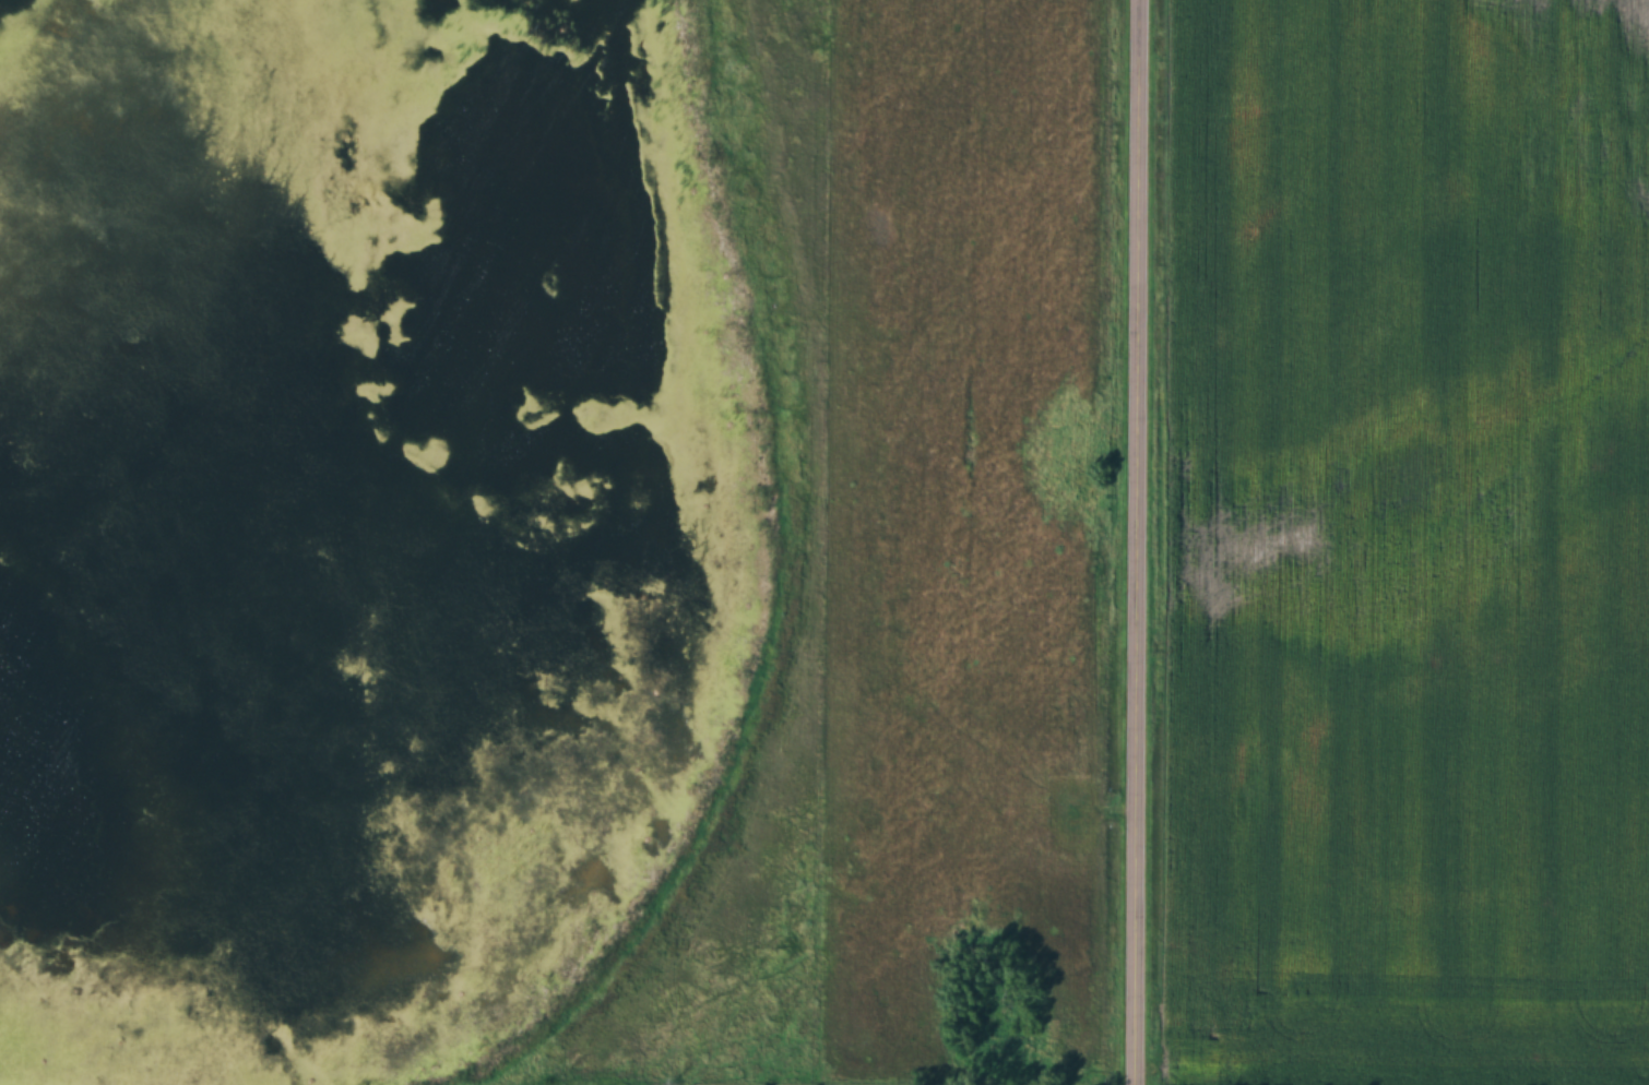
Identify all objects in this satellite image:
road: (1139, 542)

